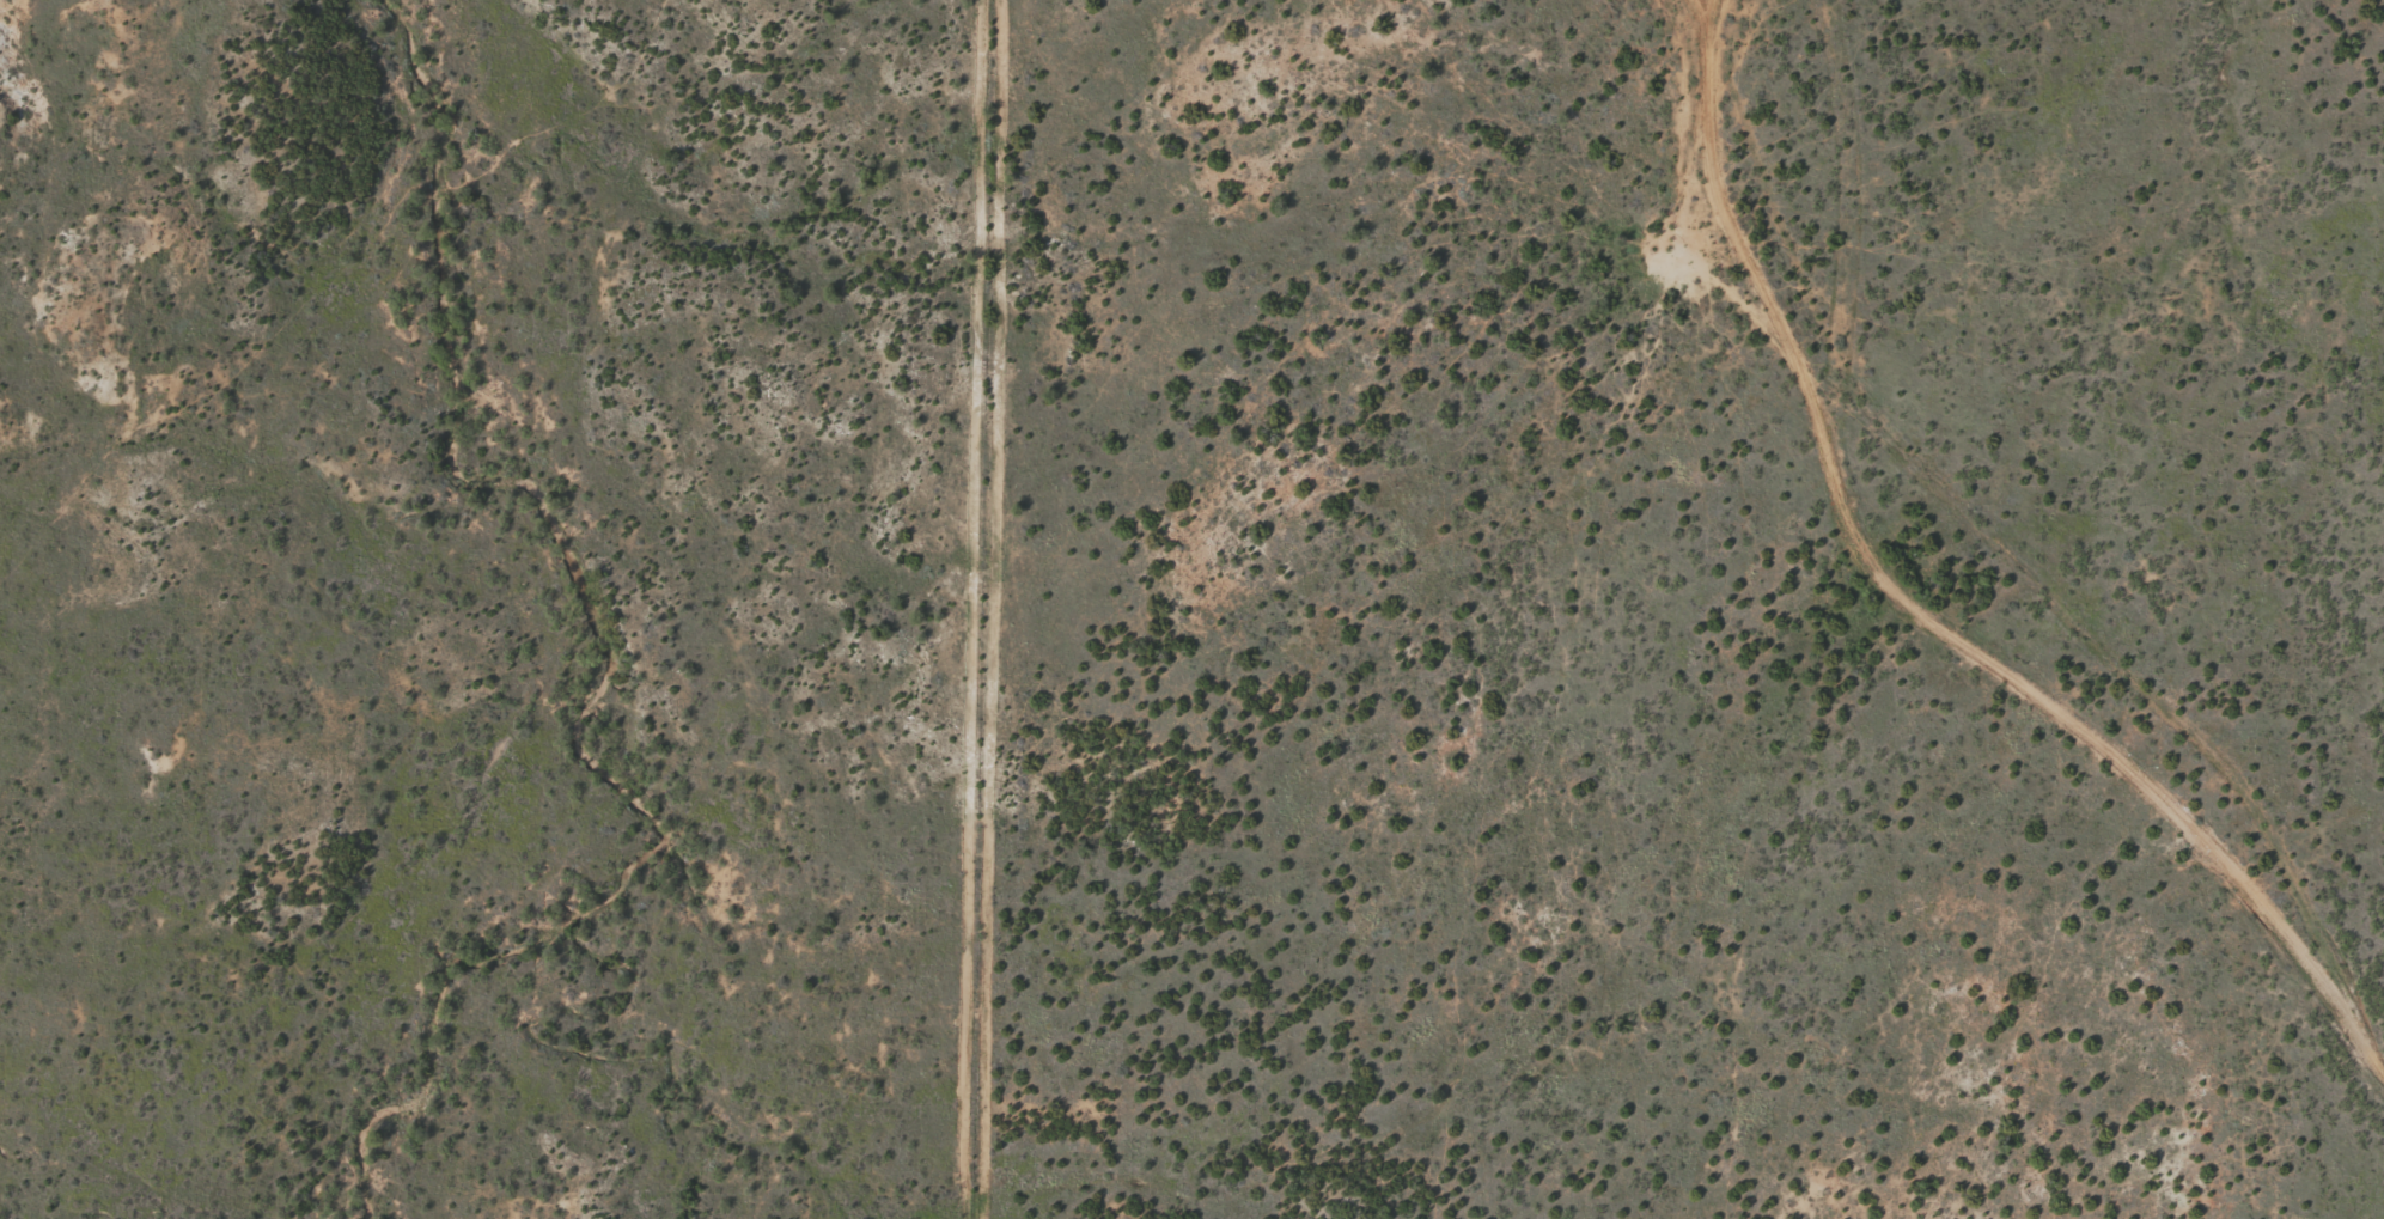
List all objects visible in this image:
road: (2001, 540)

